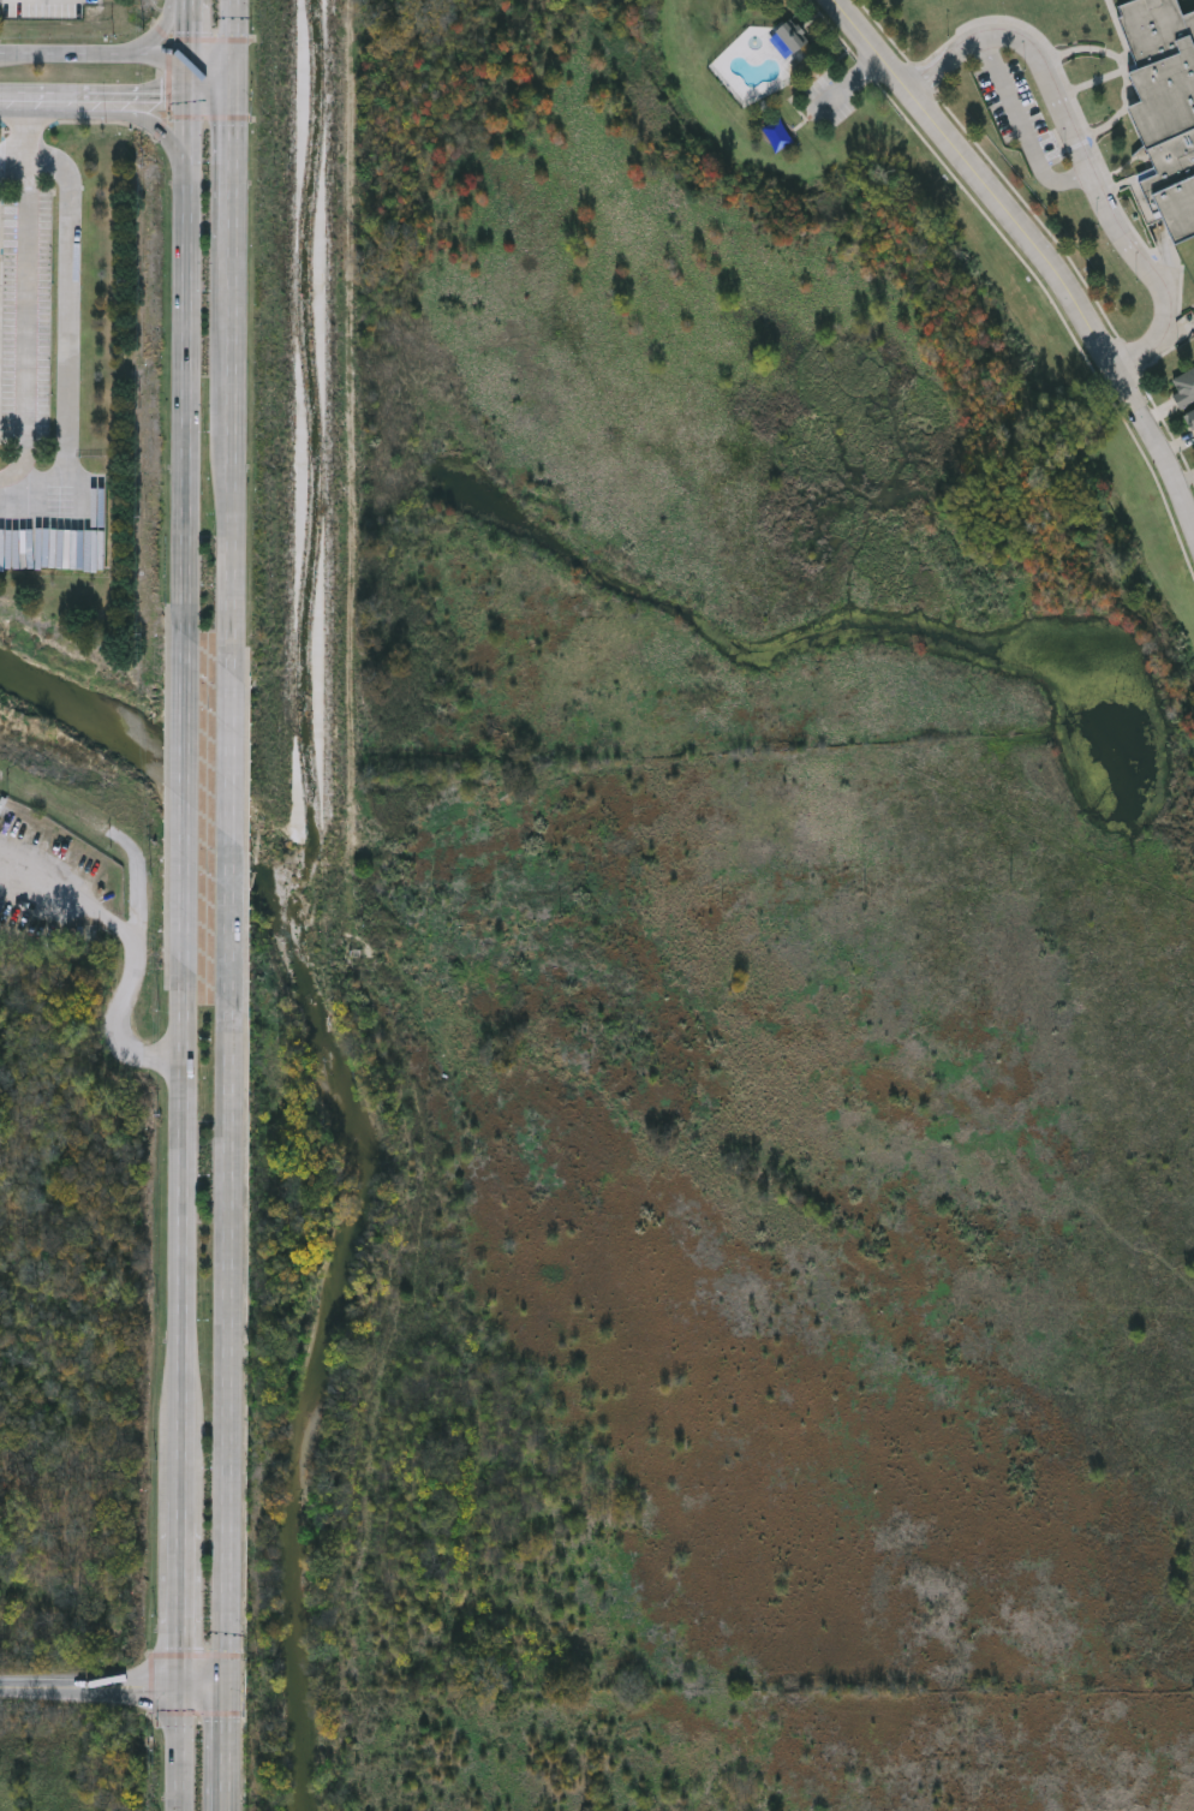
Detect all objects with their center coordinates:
road: (184, 29)
road: (151, 35)
building: (790, 37)
road: (232, 52)
road: (115, 56)
traffic signals: (184, 58)
traffic signals: (232, 58)
road: (848, 85)
road: (16, 105)
road: (74, 105)
road: (149, 105)
traffic signals: (183, 105)
road: (207, 105)
traffic signals: (232, 106)
building: (1164, 107)
road: (157, 125)
road: (1022, 129)
road: (1086, 154)
road: (16, 155)
road: (229, 181)
road: (1039, 248)
road: (30, 276)
road: (80, 338)
road: (227, 340)
road: (180, 344)
building: (1183, 387)
building: (1190, 418)
road: (226, 547)
road: (180, 797)
road: (226, 836)
road: (138, 957)
road: (180, 1243)
road: (227, 1345)
road: (179, 1606)
road: (89, 1687)
road: (203, 1687)
road: (178, 1749)
road: (228, 1749)

